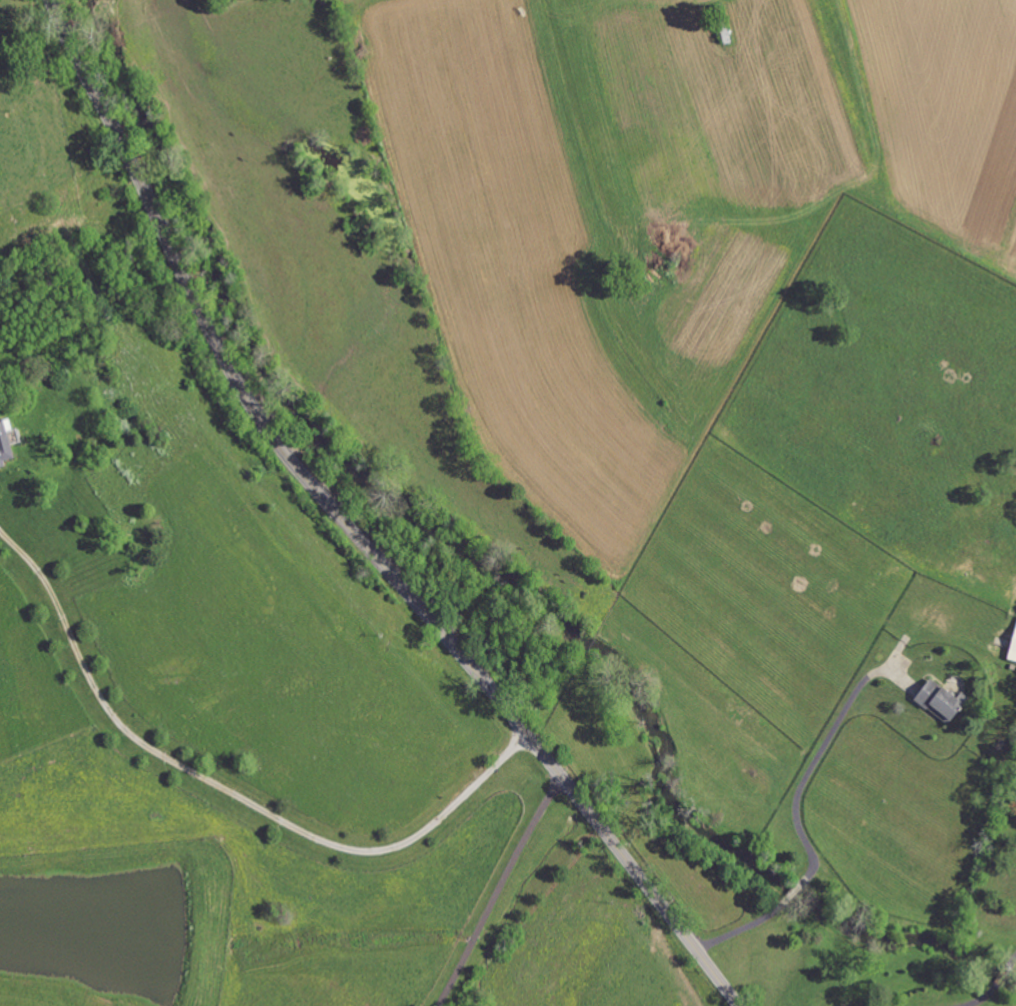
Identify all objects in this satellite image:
road: (351, 530)
building: (1012, 646)
building: (938, 701)
road: (814, 764)
road: (226, 792)
building: (1015, 806)
road: (497, 891)
road: (794, 894)
road: (739, 930)
road: (995, 987)

